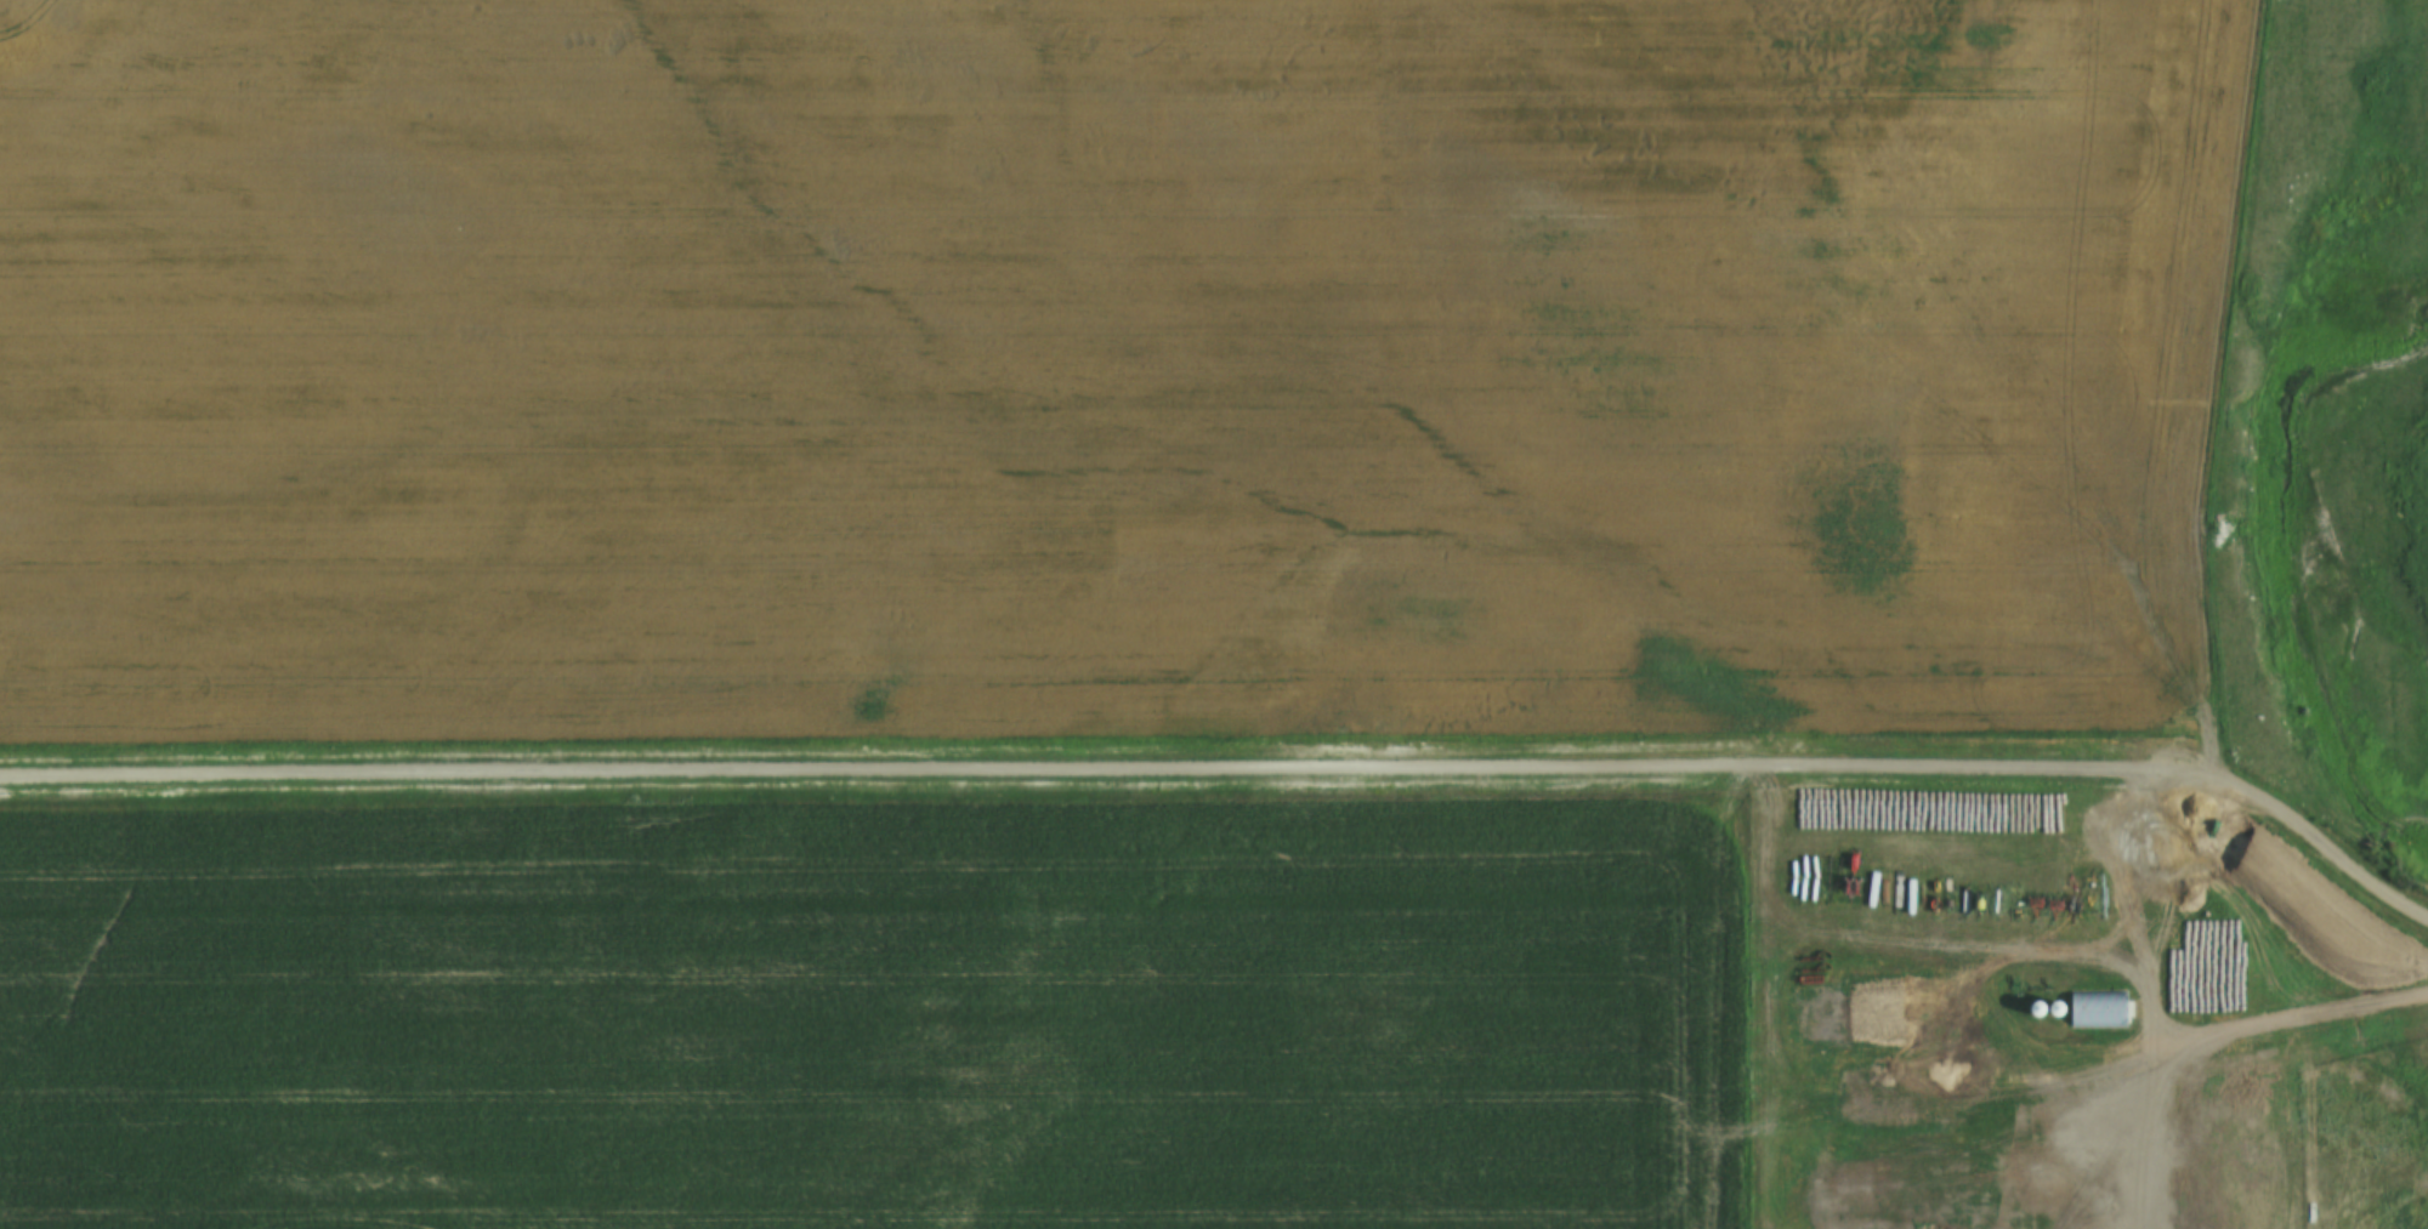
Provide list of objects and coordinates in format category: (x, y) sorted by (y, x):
road: (1233, 772)
road: (2220, 1042)

